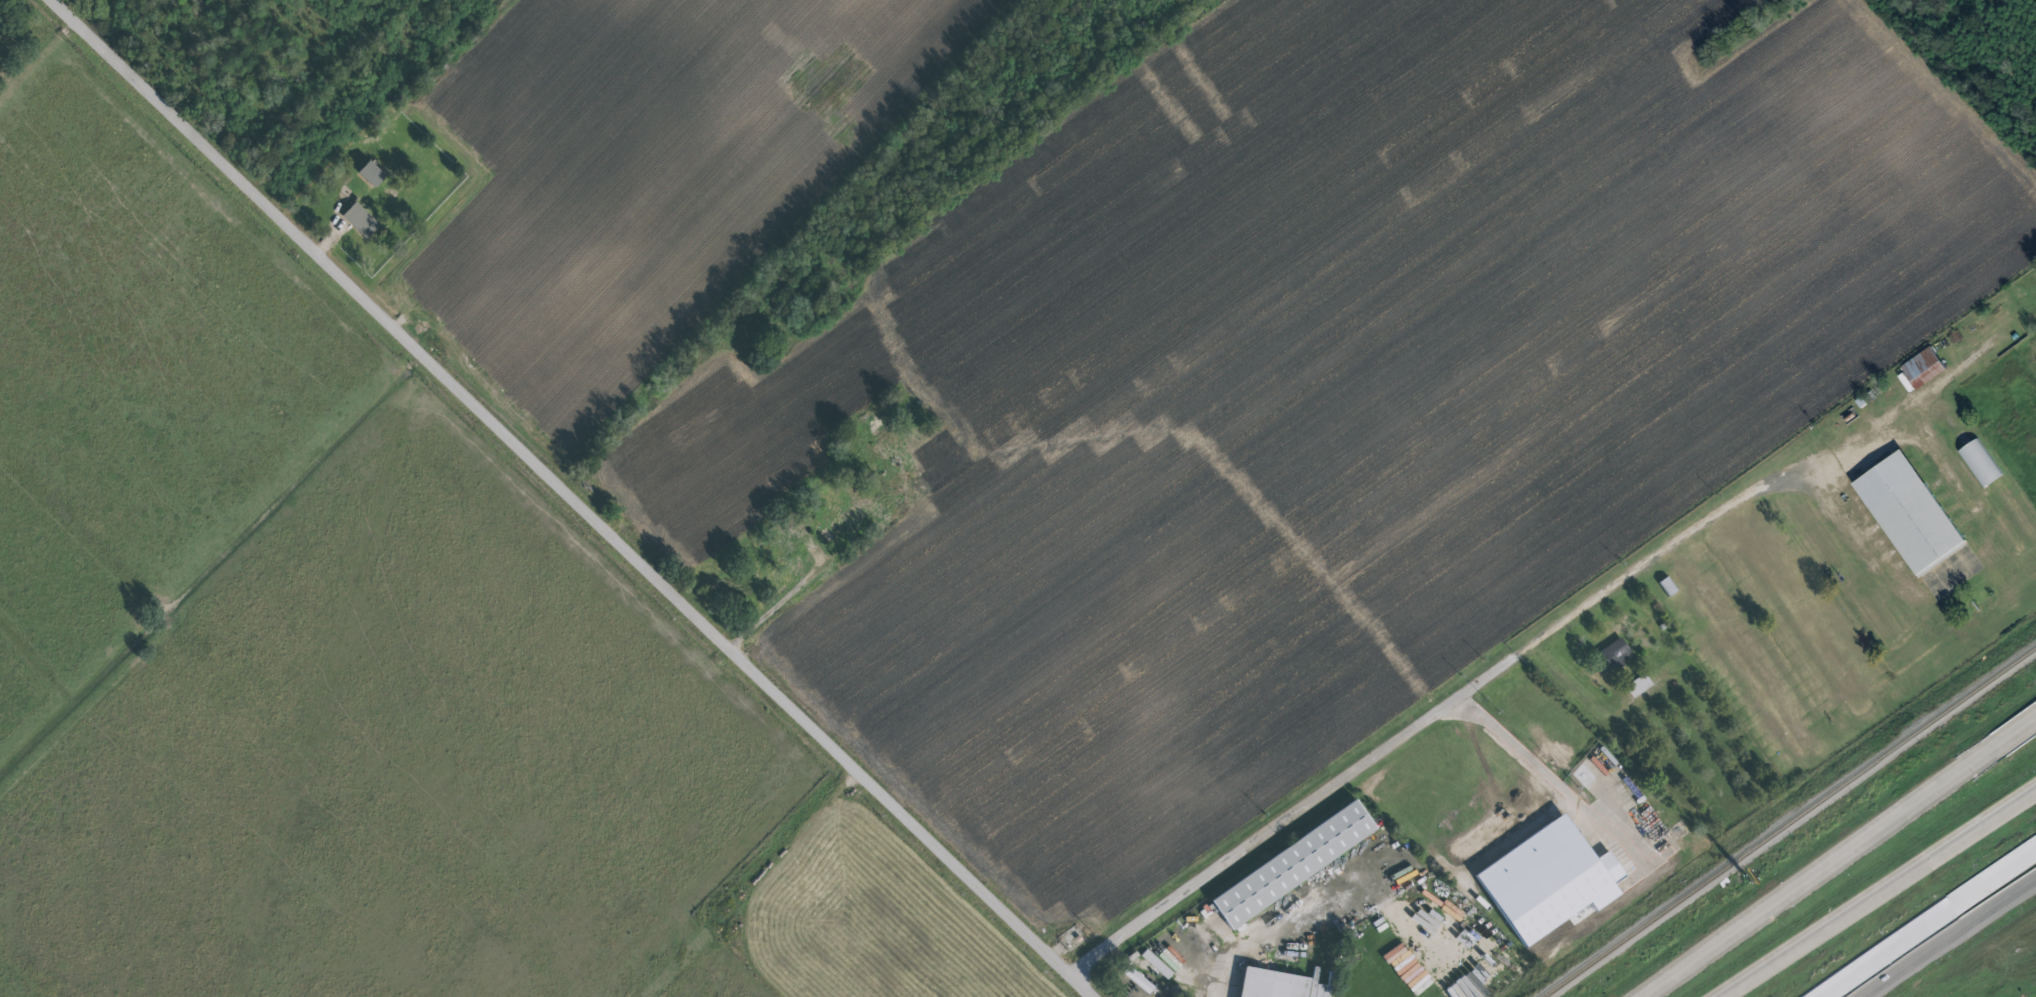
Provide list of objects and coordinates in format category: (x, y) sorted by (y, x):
road: (38, 58)
building: (370, 173)
building: (359, 219)
building: (1923, 368)
road: (1900, 411)
building: (874, 423)
building: (1980, 461)
road: (576, 496)
building: (1910, 514)
building: (879, 517)
building: (790, 540)
road: (1951, 576)
building: (1667, 586)
road: (796, 595)
building: (1615, 652)
building: (1637, 684)
road: (1591, 703)
road: (1433, 714)
road: (1524, 751)
railway: (1786, 823)
road: (1839, 858)
building: (1292, 865)
building: (1544, 880)
road: (1875, 885)
road: (1926, 922)
building: (1156, 964)
road: (1168, 972)
building: (1137, 979)
building: (1268, 984)
building: (1461, 989)
road: (2027, 994)

